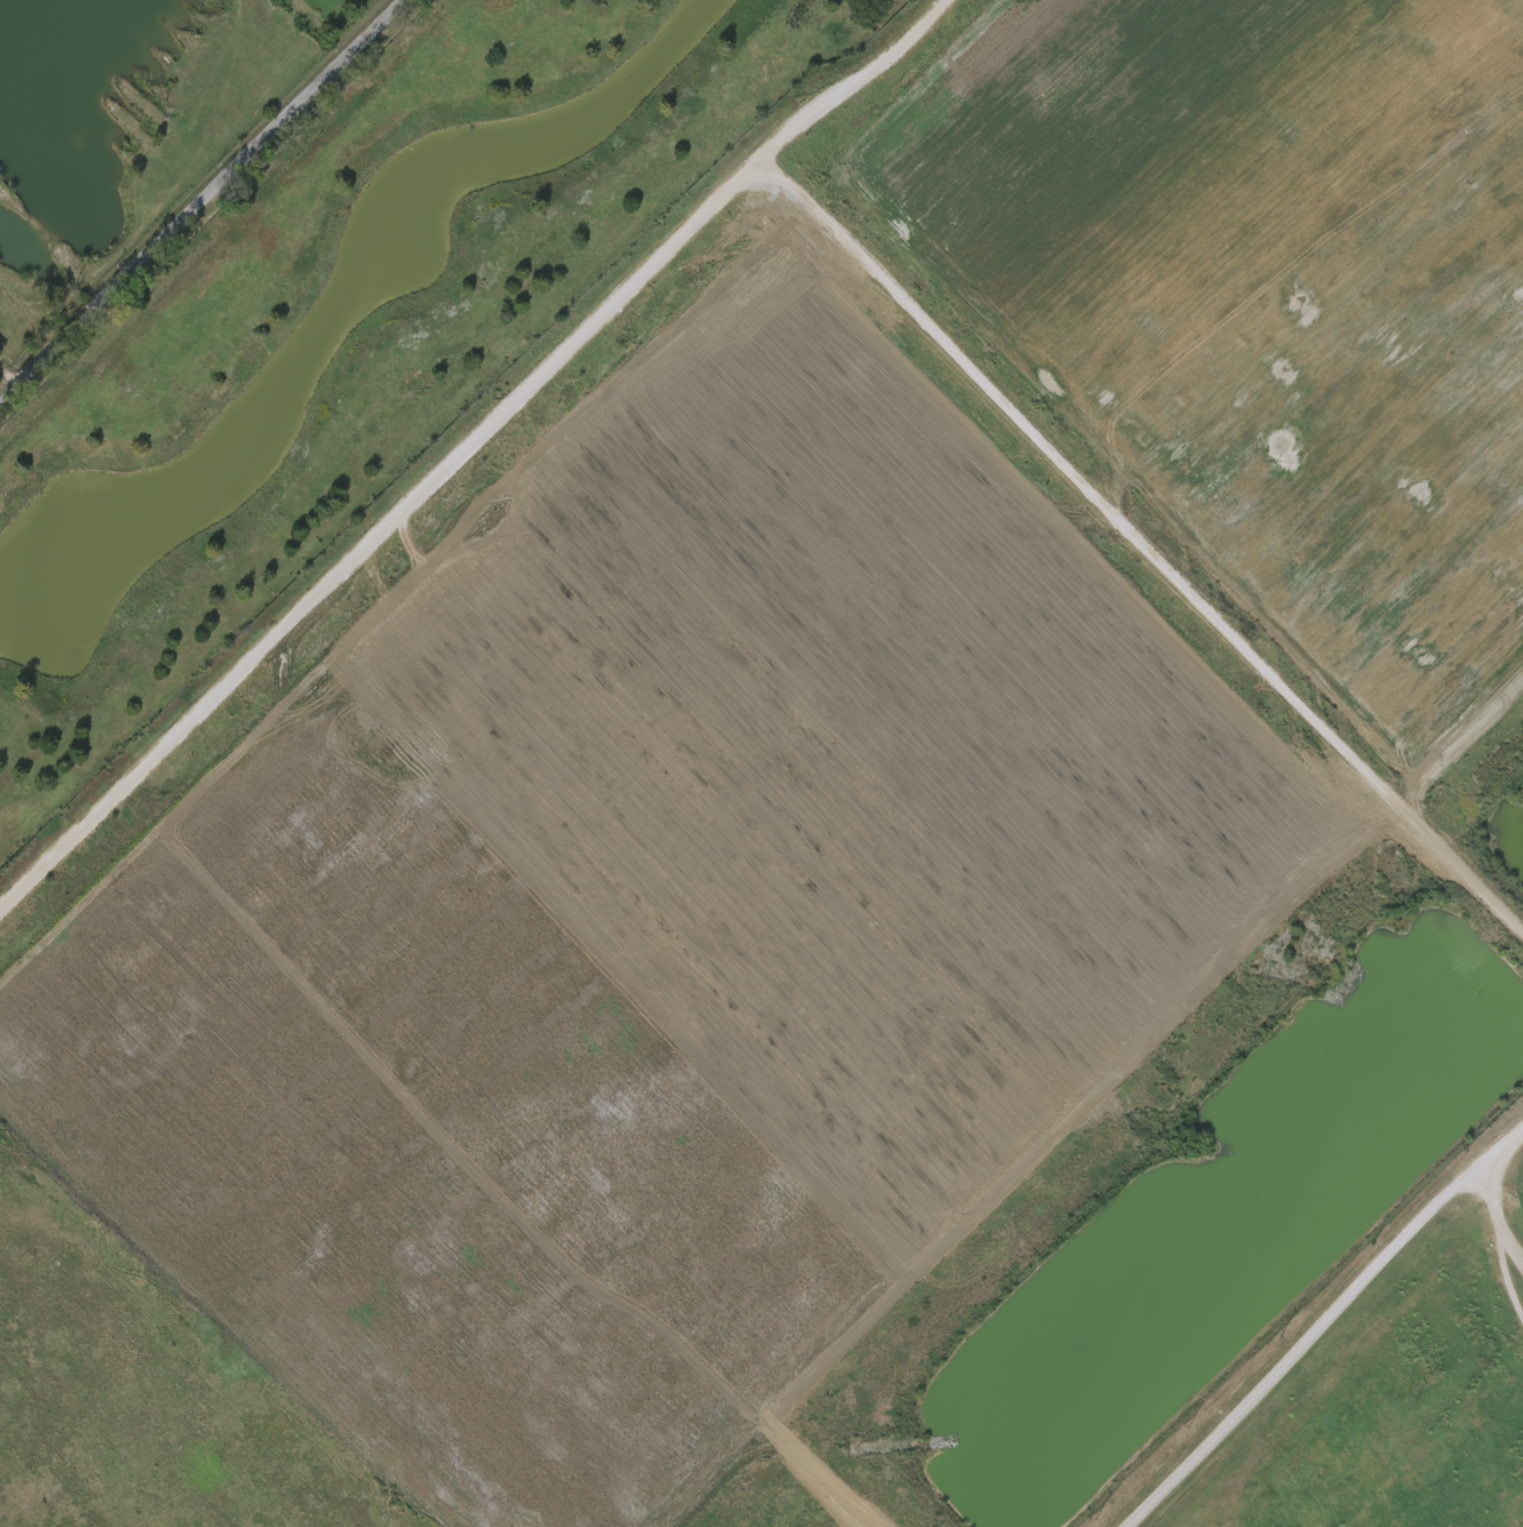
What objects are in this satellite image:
road: (194, 193)
road: (471, 450)
wastewater plant: (791, 793)
road: (1501, 1205)
road: (1324, 1325)

